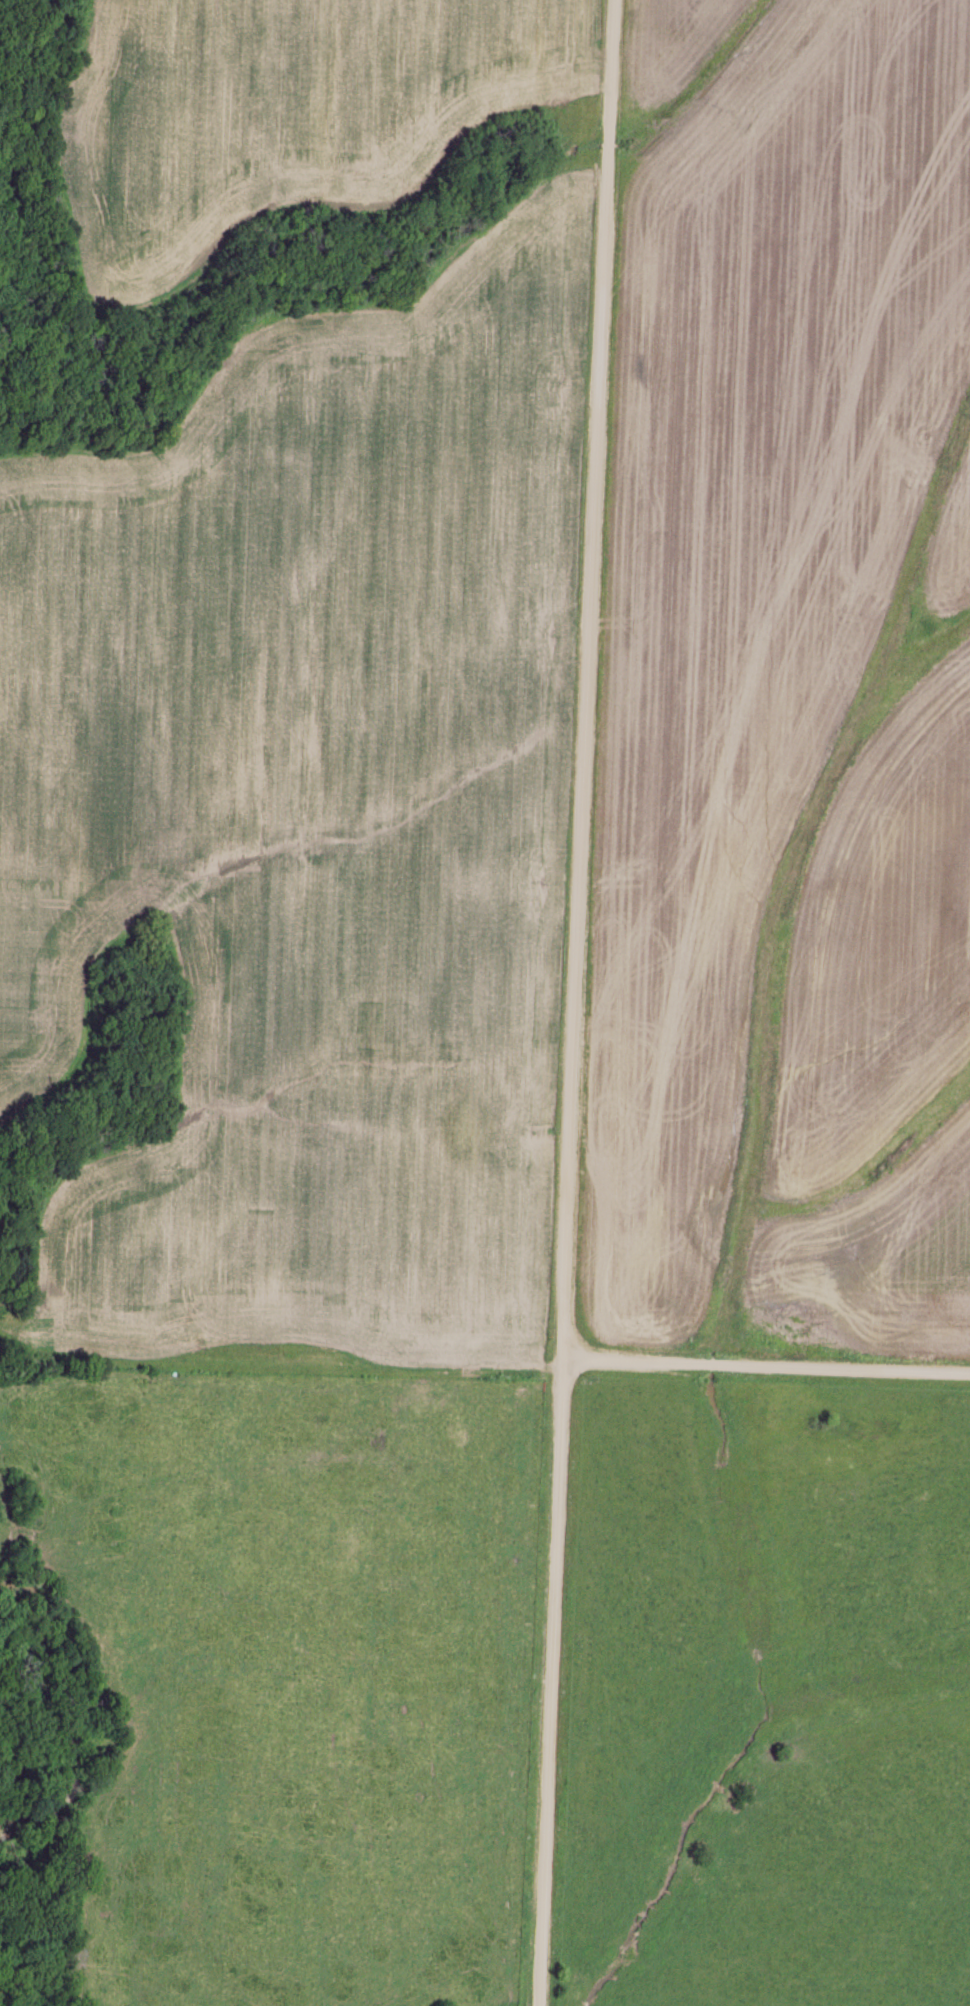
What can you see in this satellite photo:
road: (579, 1003)
road: (768, 1369)

